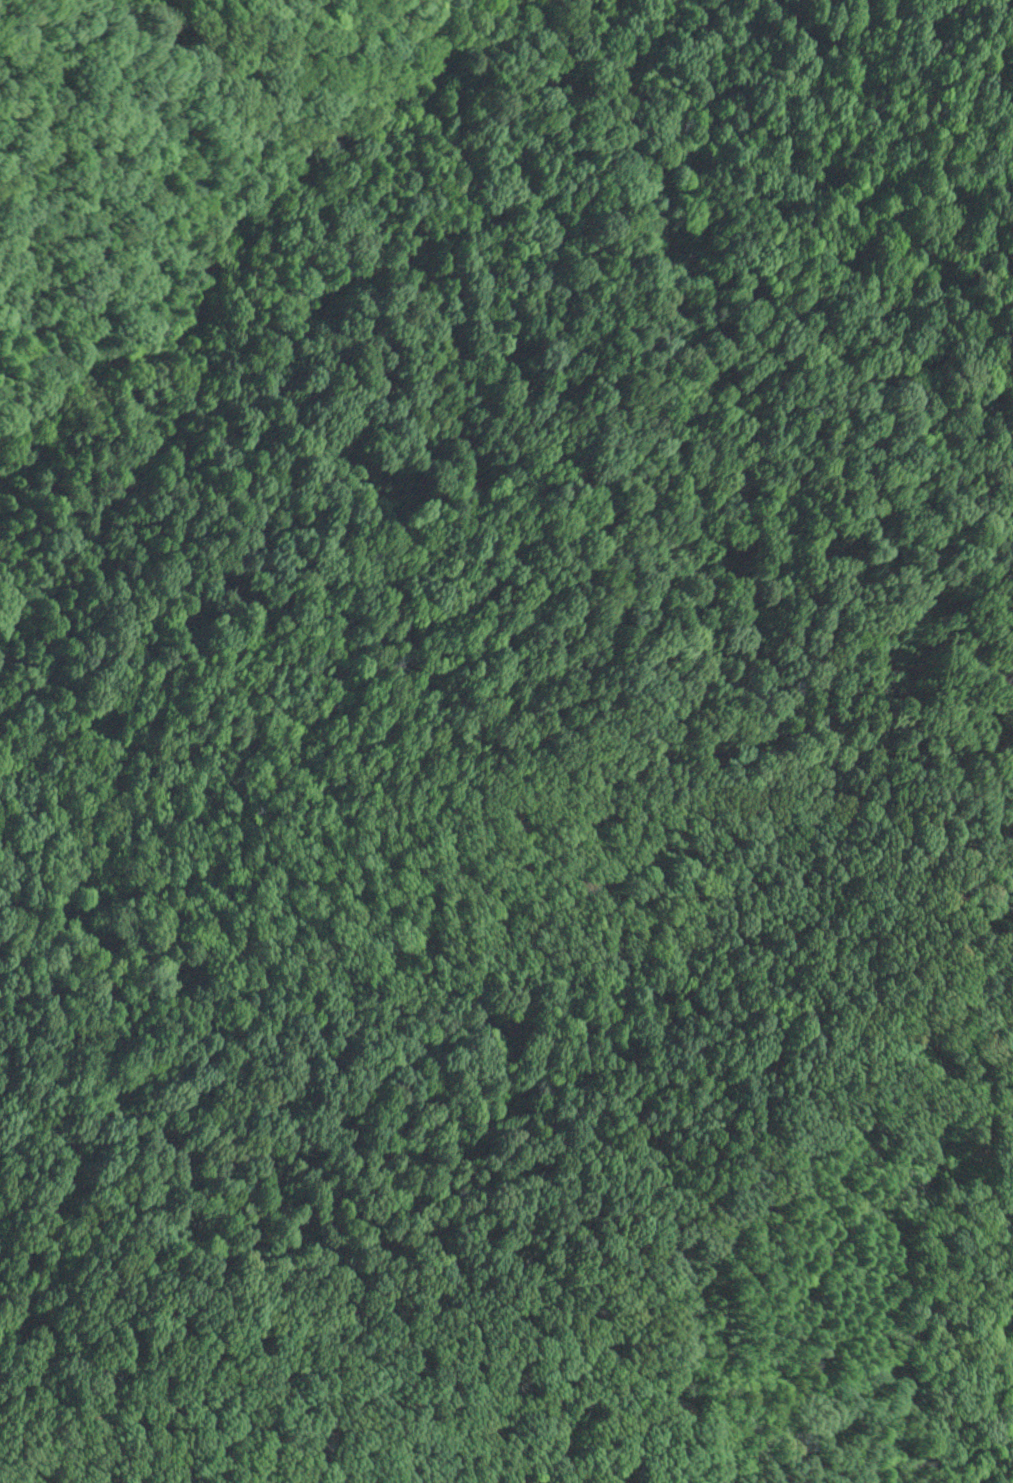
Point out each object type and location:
road: (183, 174)

